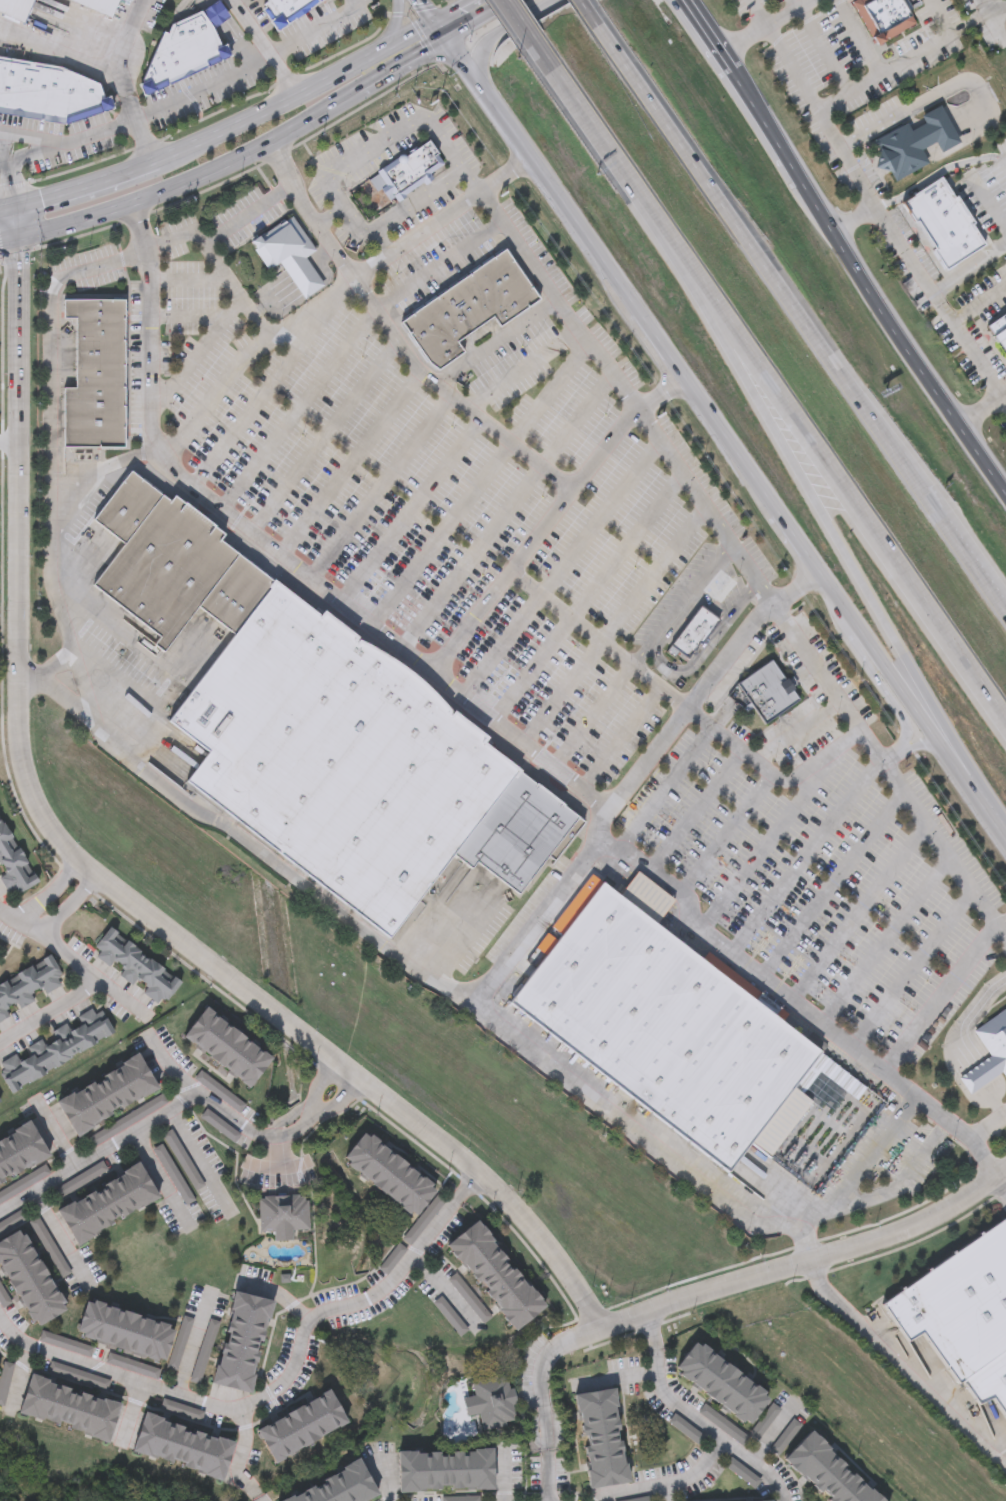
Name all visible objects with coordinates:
building: (269, 0)
road: (689, 1)
building: (24, 3)
building: (100, 5)
building: (286, 7)
road: (990, 11)
road: (455, 12)
road: (594, 13)
building: (216, 14)
road: (759, 14)
building: (883, 16)
road: (432, 21)
road: (483, 21)
traffic signals: (434, 24)
road: (395, 26)
road: (771, 26)
road: (319, 29)
road: (500, 34)
road: (534, 35)
road: (126, 36)
road: (858, 39)
building: (196, 42)
traffic signals: (447, 42)
road: (824, 45)
road: (264, 47)
building: (170, 58)
road: (905, 63)
road: (102, 68)
building: (155, 75)
road: (203, 88)
road: (364, 89)
road: (305, 91)
building: (48, 92)
road: (485, 99)
road: (923, 102)
road: (34, 137)
road: (387, 139)
building: (915, 142)
road: (68, 144)
road: (609, 147)
road: (7, 170)
road: (208, 172)
building: (406, 172)
road: (501, 172)
road: (939, 172)
road: (95, 181)
road: (411, 206)
traffic signals: (14, 207)
road: (7, 208)
road: (880, 215)
road: (855, 221)
road: (66, 224)
road: (227, 224)
building: (943, 224)
road: (358, 225)
road: (416, 232)
road: (580, 234)
traffic signals: (17, 242)
road: (844, 249)
building: (289, 254)
road: (438, 265)
road: (972, 266)
building: (517, 279)
road: (224, 280)
building: (505, 287)
building: (492, 296)
road: (980, 299)
building: (477, 300)
road: (553, 301)
building: (467, 307)
building: (95, 309)
building: (457, 314)
road: (804, 318)
road: (189, 319)
building: (445, 319)
building: (101, 325)
building: (422, 326)
building: (999, 330)
building: (101, 337)
road: (494, 344)
road: (660, 348)
building: (441, 349)
road: (57, 352)
building: (100, 353)
road: (244, 354)
road: (197, 357)
road: (522, 370)
building: (101, 371)
road: (426, 379)
road: (274, 382)
road: (660, 397)
road: (299, 409)
road: (981, 409)
building: (95, 413)
road: (323, 435)
road: (8, 442)
road: (730, 449)
road: (351, 466)
road: (834, 467)
road: (685, 475)
road: (478, 484)
road: (379, 488)
road: (814, 496)
building: (118, 500)
building: (128, 508)
road: (413, 512)
road: (505, 513)
building: (138, 515)
road: (796, 545)
road: (58, 557)
road: (560, 567)
building: (167, 569)
road: (749, 574)
road: (500, 579)
road: (793, 590)
building: (236, 595)
road: (588, 596)
road: (832, 596)
road: (681, 604)
road: (613, 623)
road: (383, 635)
building: (691, 636)
road: (597, 639)
road: (887, 671)
road: (826, 682)
road: (85, 688)
building: (767, 693)
road: (592, 716)
road: (799, 733)
road: (621, 739)
road: (904, 743)
road: (943, 748)
road: (746, 753)
building: (339, 759)
road: (664, 792)
road: (982, 807)
road: (697, 810)
road: (780, 831)
road: (729, 834)
building: (519, 835)
building: (567, 841)
road: (937, 842)
road: (256, 849)
road: (805, 857)
building: (13, 866)
road: (89, 873)
road: (831, 884)
road: (47, 892)
road: (65, 906)
road: (859, 912)
road: (1002, 930)
road: (460, 933)
road: (884, 940)
building: (137, 968)
road: (912, 970)
road: (89, 976)
building: (28, 987)
road: (119, 997)
road: (941, 997)
road: (798, 1006)
road: (964, 1023)
building: (669, 1026)
building: (229, 1048)
building: (55, 1049)
building: (989, 1054)
road: (564, 1059)
road: (169, 1062)
road: (974, 1079)
building: (108, 1096)
road: (993, 1102)
road: (304, 1105)
building: (0, 1106)
road: (310, 1113)
road: (314, 1121)
road: (989, 1128)
road: (128, 1132)
road: (57, 1139)
road: (879, 1145)
building: (21, 1154)
road: (197, 1157)
road: (156, 1175)
building: (396, 1183)
road: (467, 1185)
road: (1002, 1186)
road: (885, 1193)
building: (109, 1205)
building: (283, 1216)
road: (58, 1234)
building: (392, 1260)
road: (805, 1263)
building: (498, 1277)
building: (30, 1280)
road: (437, 1281)
road: (279, 1294)
building: (469, 1299)
building: (960, 1305)
building: (449, 1317)
road: (650, 1328)
building: (126, 1332)
building: (243, 1344)
road: (189, 1346)
road: (902, 1368)
road: (541, 1375)
building: (989, 1383)
building: (724, 1385)
road: (264, 1397)
building: (491, 1403)
building: (71, 1410)
road: (710, 1426)
building: (303, 1428)
building: (603, 1440)
building: (185, 1448)
road: (240, 1454)
building: (447, 1472)
building: (828, 1472)
road: (548, 1475)
road: (502, 1477)
road: (672, 1485)
building: (340, 1488)
road: (661, 1494)
road: (258, 1498)

